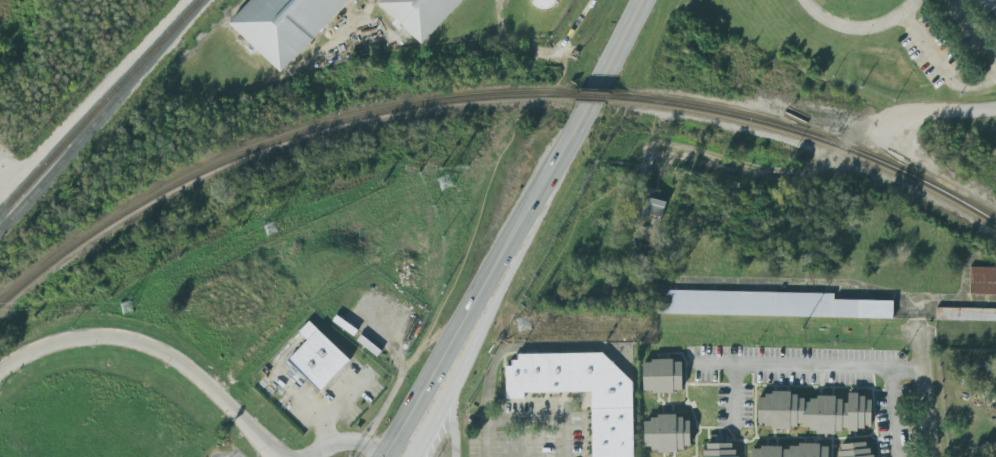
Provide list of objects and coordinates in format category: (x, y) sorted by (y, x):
road: (994, 1)
building: (548, 5)
building: (417, 15)
building: (280, 26)
road: (861, 28)
road: (972, 34)
parking lot: (952, 40)
road: (611, 55)
road: (939, 67)
railway: (591, 98)
railway: (99, 105)
railway: (99, 114)
road: (938, 119)
railway: (813, 140)
railway: (263, 147)
road: (776, 174)
power tower: (441, 185)
building: (652, 203)
power tower: (268, 230)
road: (518, 241)
building: (982, 280)
building: (768, 304)
power tower: (122, 310)
building: (966, 314)
power tower: (525, 327)
power tower: (799, 329)
road: (509, 348)
road: (154, 349)
building: (313, 358)
road: (810, 366)
building: (661, 376)
road: (924, 383)
parking lot: (316, 393)
road: (734, 398)
building: (814, 412)
road: (893, 413)
road: (429, 414)
road: (452, 414)
road: (524, 420)
building: (612, 427)
building: (666, 433)
road: (324, 436)
road: (526, 438)
road: (563, 438)
road: (344, 441)
building: (719, 449)
building: (854, 449)
building: (788, 450)
parking lot: (226, 452)

